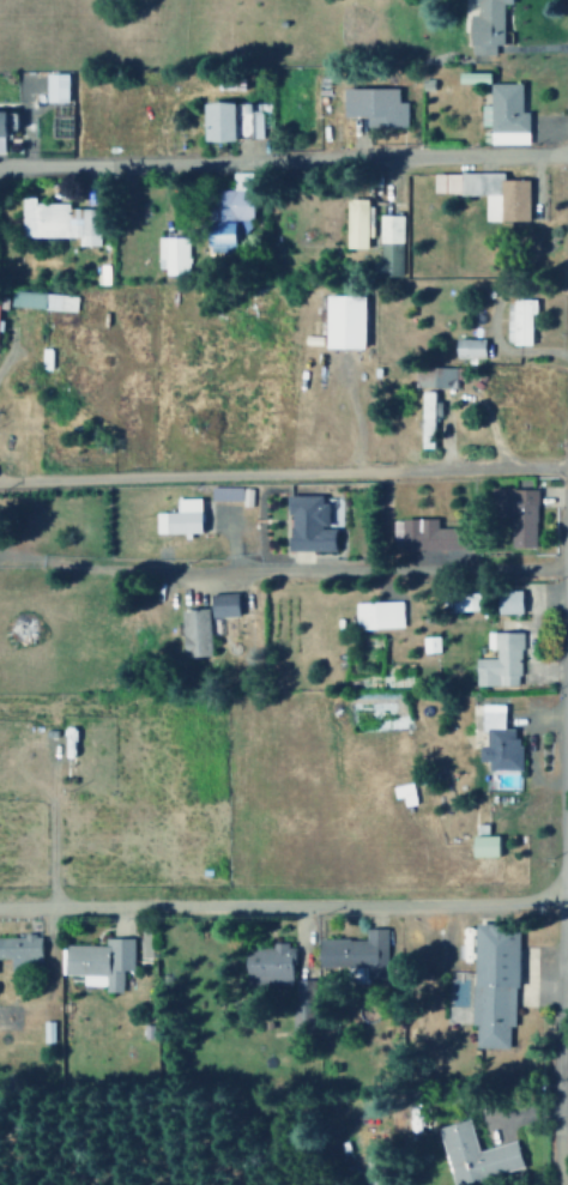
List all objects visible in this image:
building: (483, 26)
building: (53, 87)
building: (371, 105)
building: (502, 115)
building: (214, 120)
building: (5, 122)
building: (58, 127)
road: (283, 161)
building: (485, 193)
building: (226, 211)
building: (56, 222)
building: (355, 223)
building: (387, 247)
building: (169, 254)
building: (40, 301)
building: (1, 302)
building: (340, 321)
building: (467, 347)
building: (433, 377)
building: (427, 412)
road: (284, 480)
building: (514, 513)
building: (177, 518)
building: (307, 524)
building: (421, 536)
road: (282, 572)
building: (506, 601)
building: (219, 605)
building: (376, 615)
building: (192, 633)
building: (428, 645)
building: (497, 661)
building: (496, 740)
building: (481, 846)
road: (283, 887)
building: (19, 950)
road: (563, 951)
building: (354, 953)
building: (97, 962)
building: (266, 966)
building: (491, 984)
road: (555, 1127)
building: (472, 1155)

